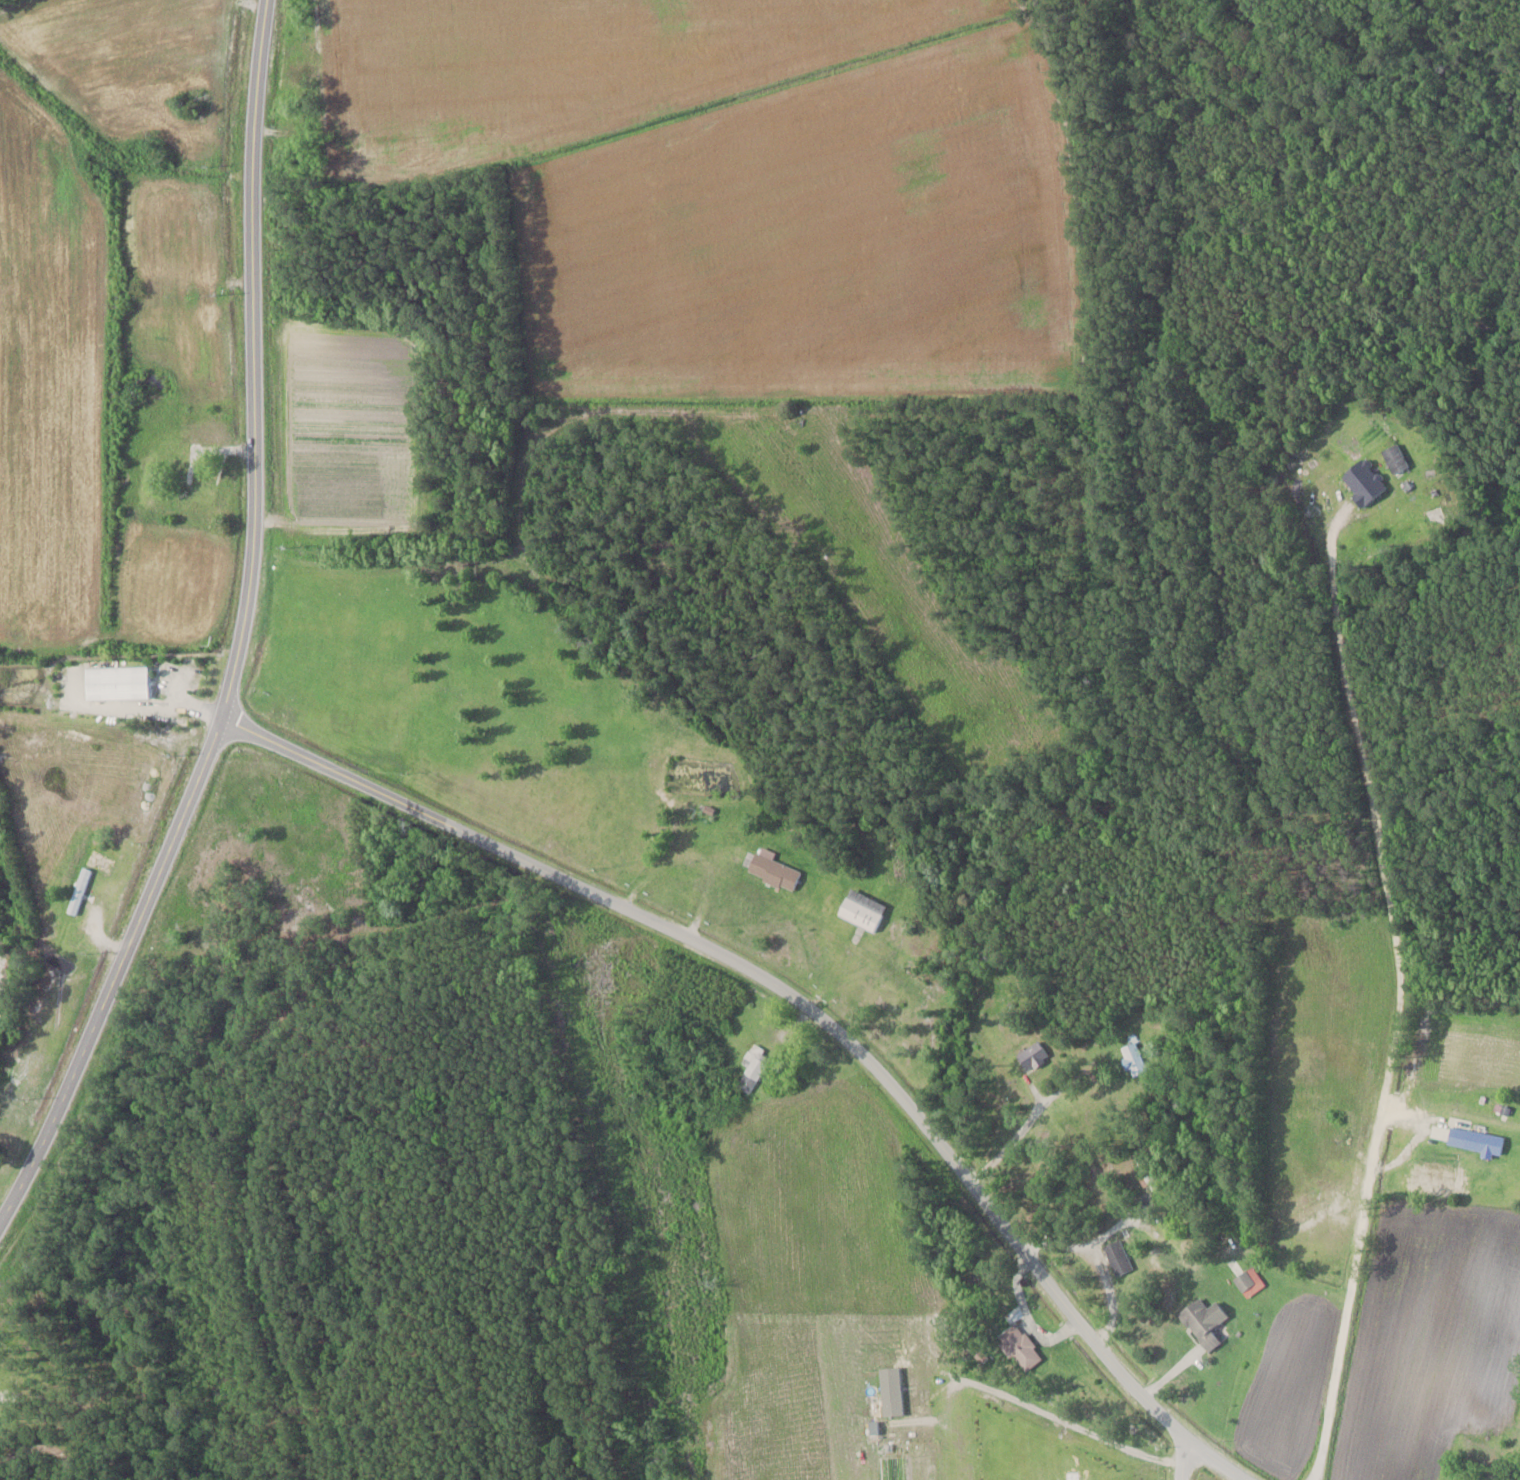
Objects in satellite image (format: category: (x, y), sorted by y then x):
building: (204, 432)
building: (1394, 458)
building: (206, 503)
road: (247, 635)
building: (115, 682)
road: (1371, 803)
road: (692, 866)
building: (772, 868)
building: (78, 890)
building: (861, 909)
road: (803, 1006)
building: (1032, 1055)
building: (1133, 1058)
building: (752, 1066)
road: (1408, 1127)
building: (1475, 1140)
road: (1014, 1143)
road: (1130, 1228)
building: (1116, 1256)
building: (1248, 1280)
building: (1200, 1322)
road: (1344, 1330)
building: (1019, 1346)
road: (1181, 1457)
building: (1510, 1477)

